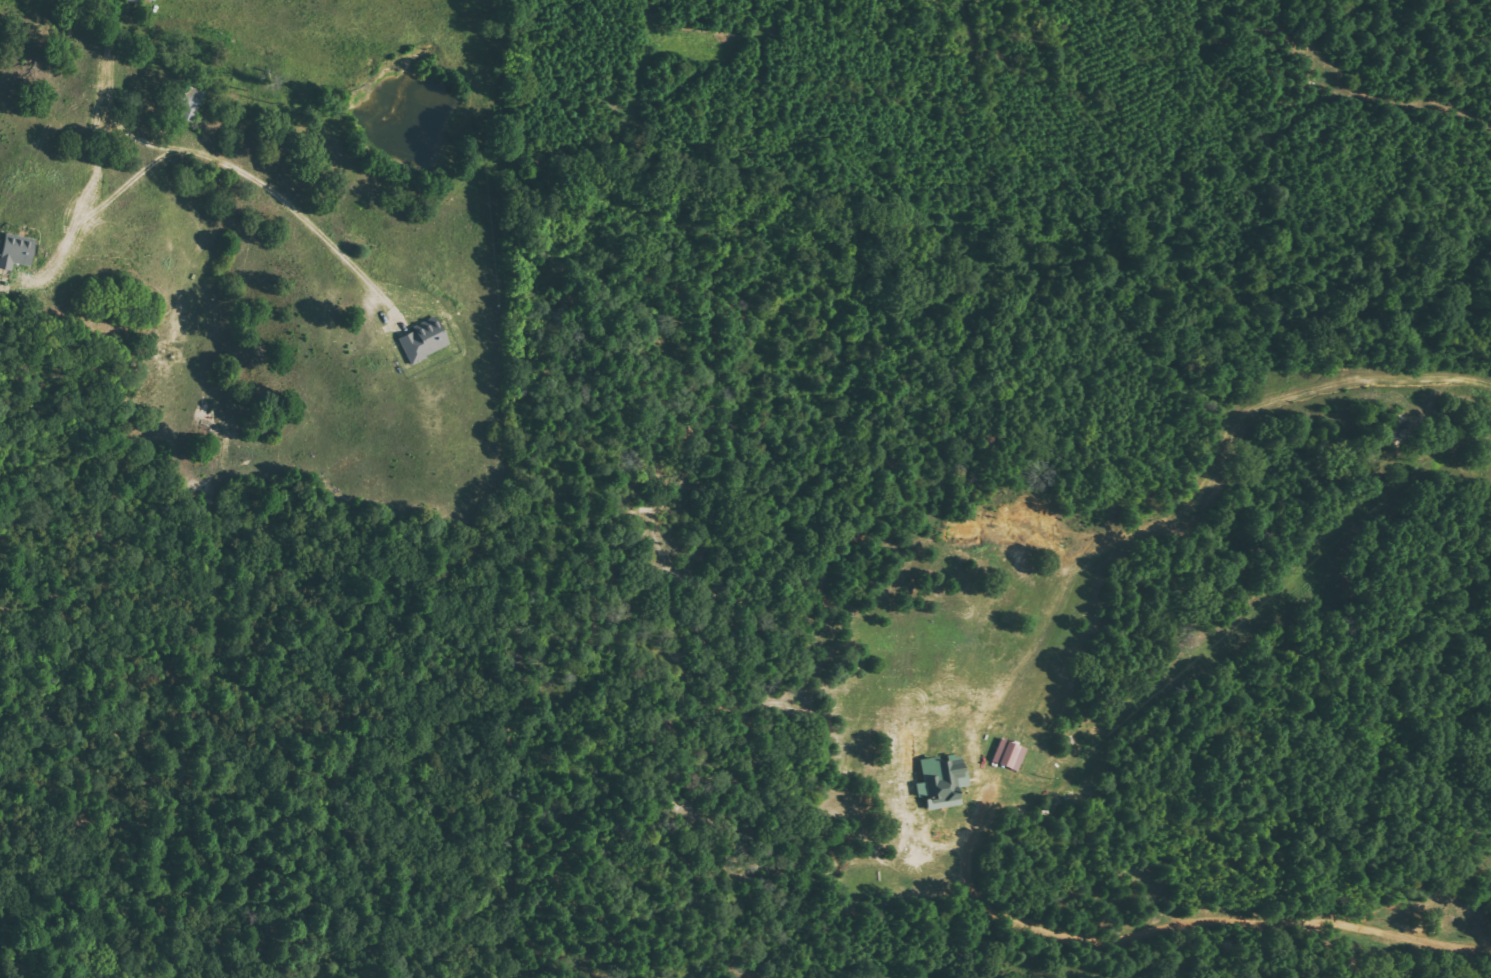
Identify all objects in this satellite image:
building: (148, 0)
building: (188, 104)
road: (46, 119)
building: (14, 251)
building: (420, 341)
building: (1007, 755)
building: (938, 783)

